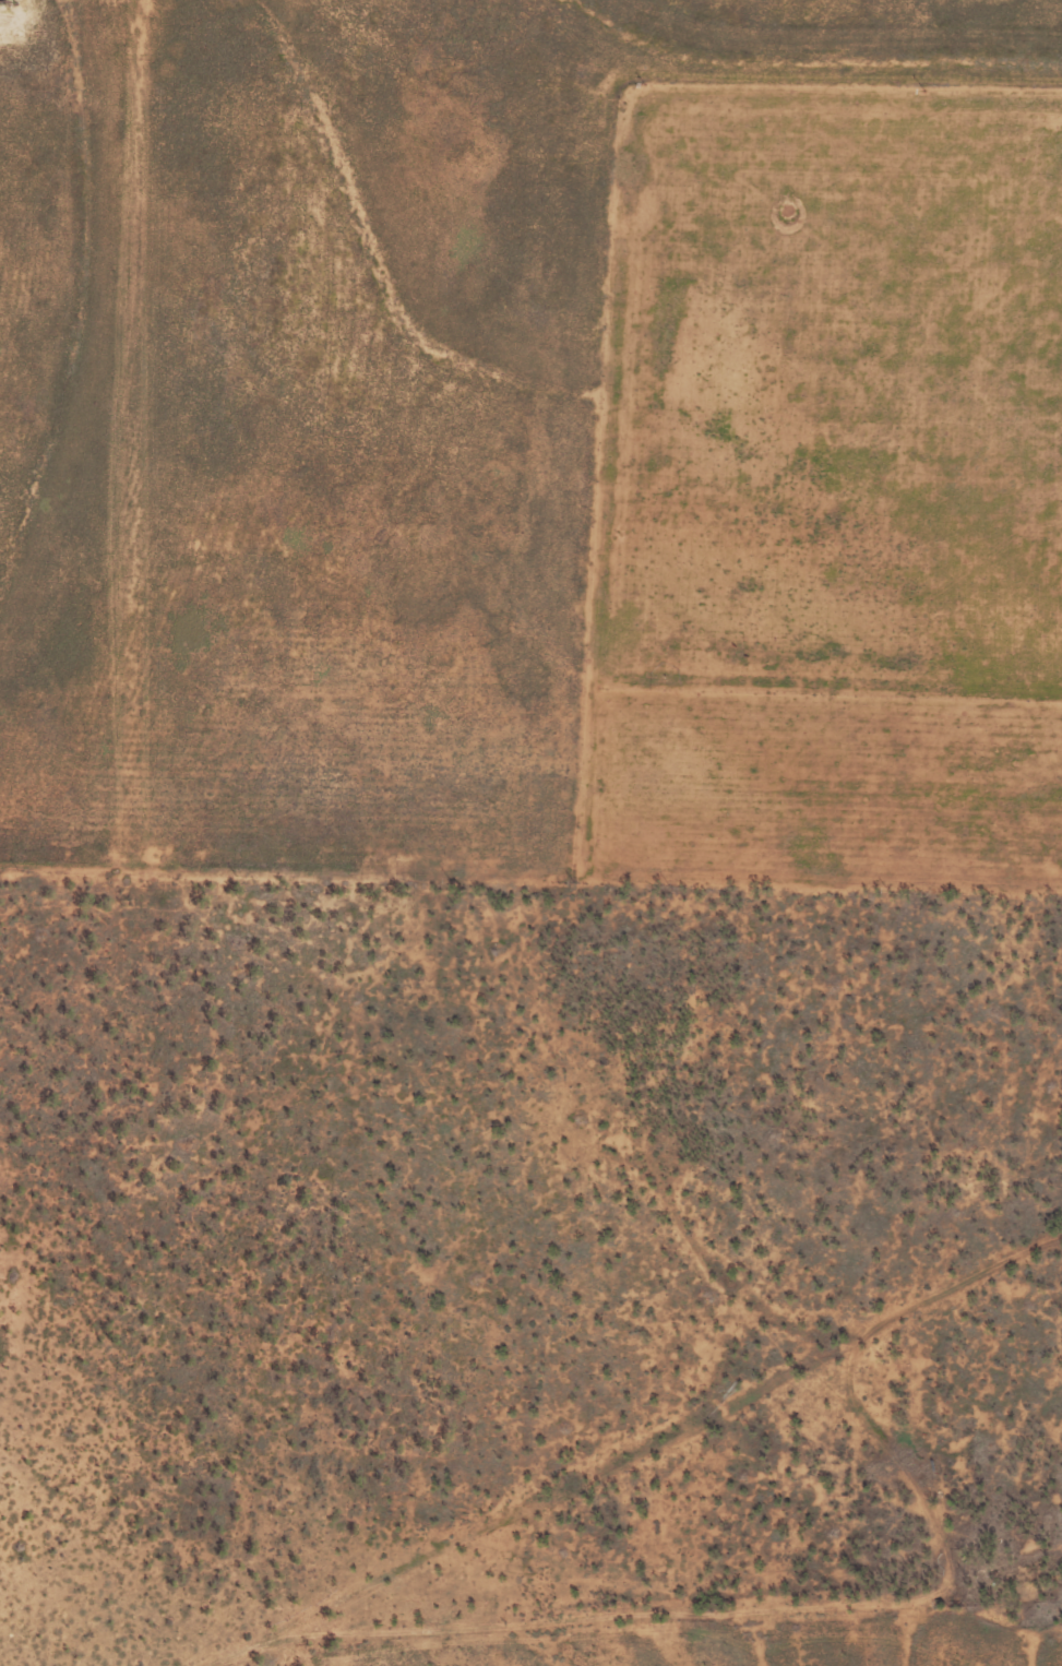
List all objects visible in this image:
road: (651, 1441)

